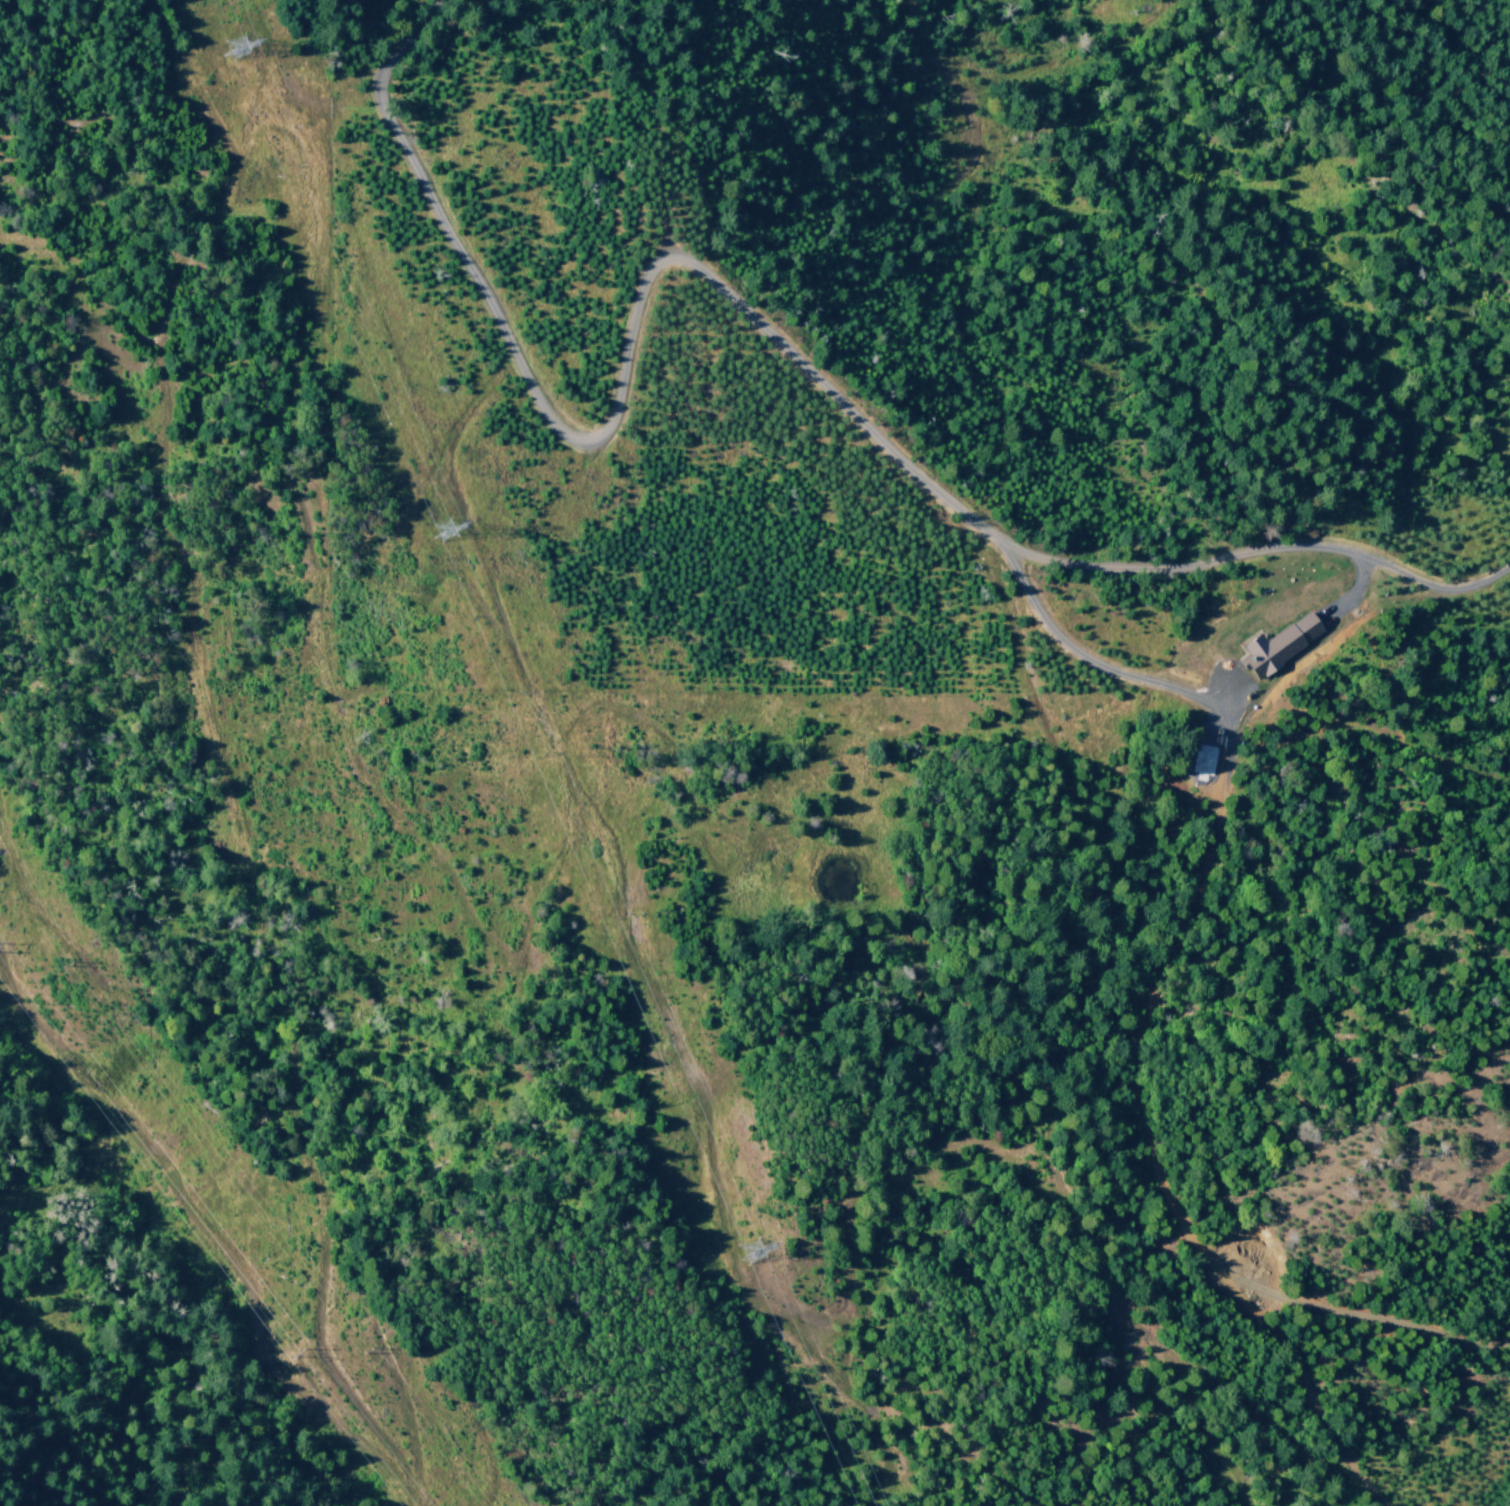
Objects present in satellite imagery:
power tower: (233, 47)
power tower: (438, 530)
building: (1304, 628)
building: (1264, 650)
power tower: (754, 1252)
power tower: (292, 1353)

